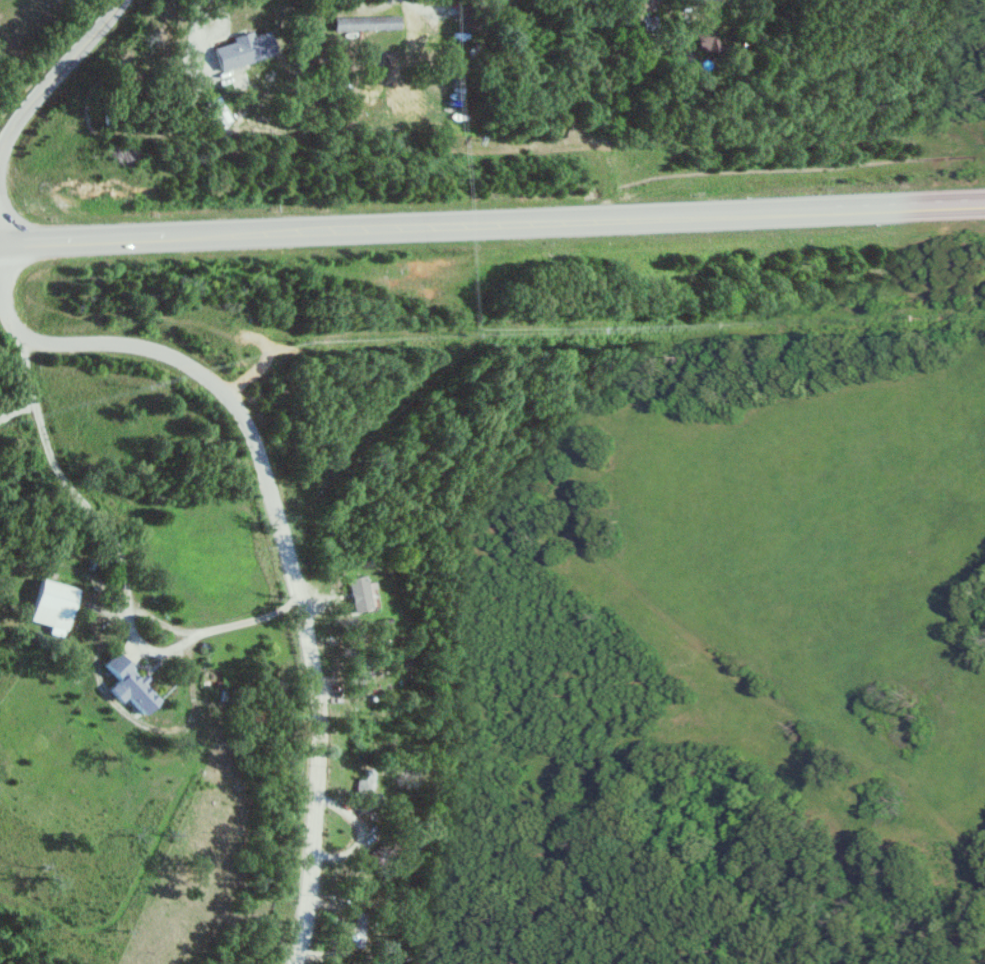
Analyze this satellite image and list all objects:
building: (640, 5)
building: (365, 23)
road: (195, 25)
park: (31, 28)
building: (706, 38)
building: (243, 50)
road: (55, 71)
building: (216, 111)
road: (0, 144)
road: (492, 221)
road: (280, 546)
road: (118, 555)
building: (357, 594)
building: (53, 605)
building: (130, 686)
building: (365, 785)
building: (357, 934)

